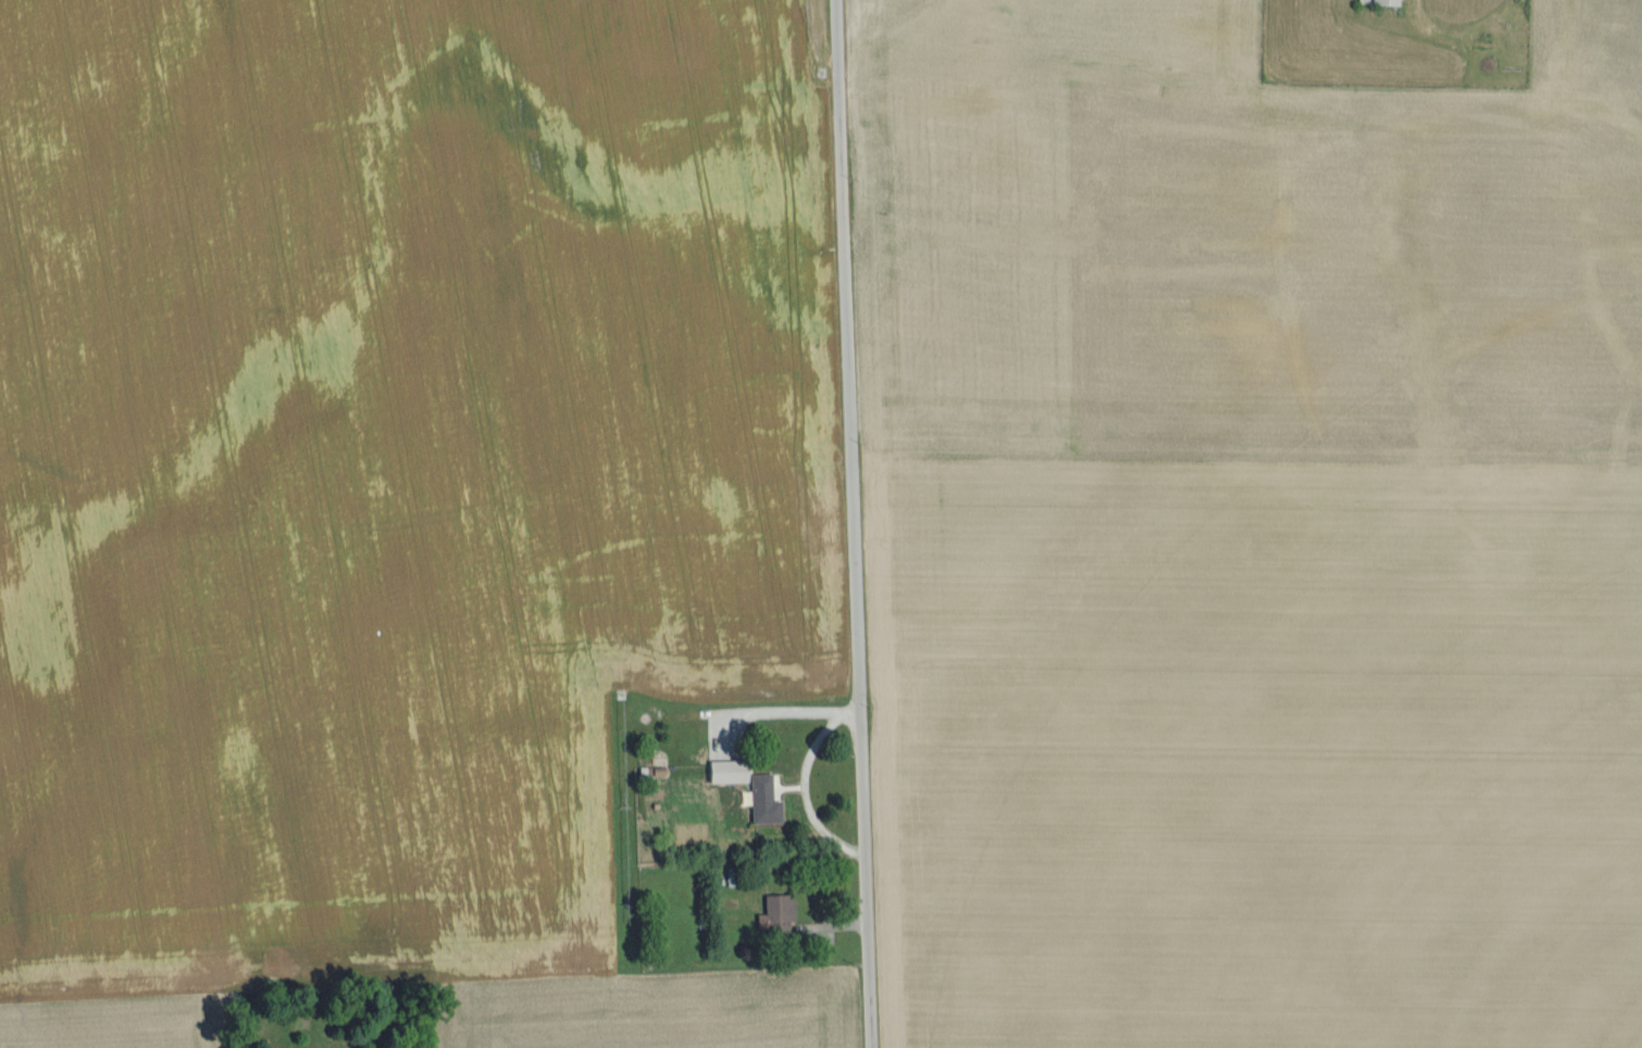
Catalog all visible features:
building: (1377, 2)
road: (853, 524)
road: (794, 710)
building: (723, 774)
building: (756, 793)
road: (803, 794)
building: (775, 913)

